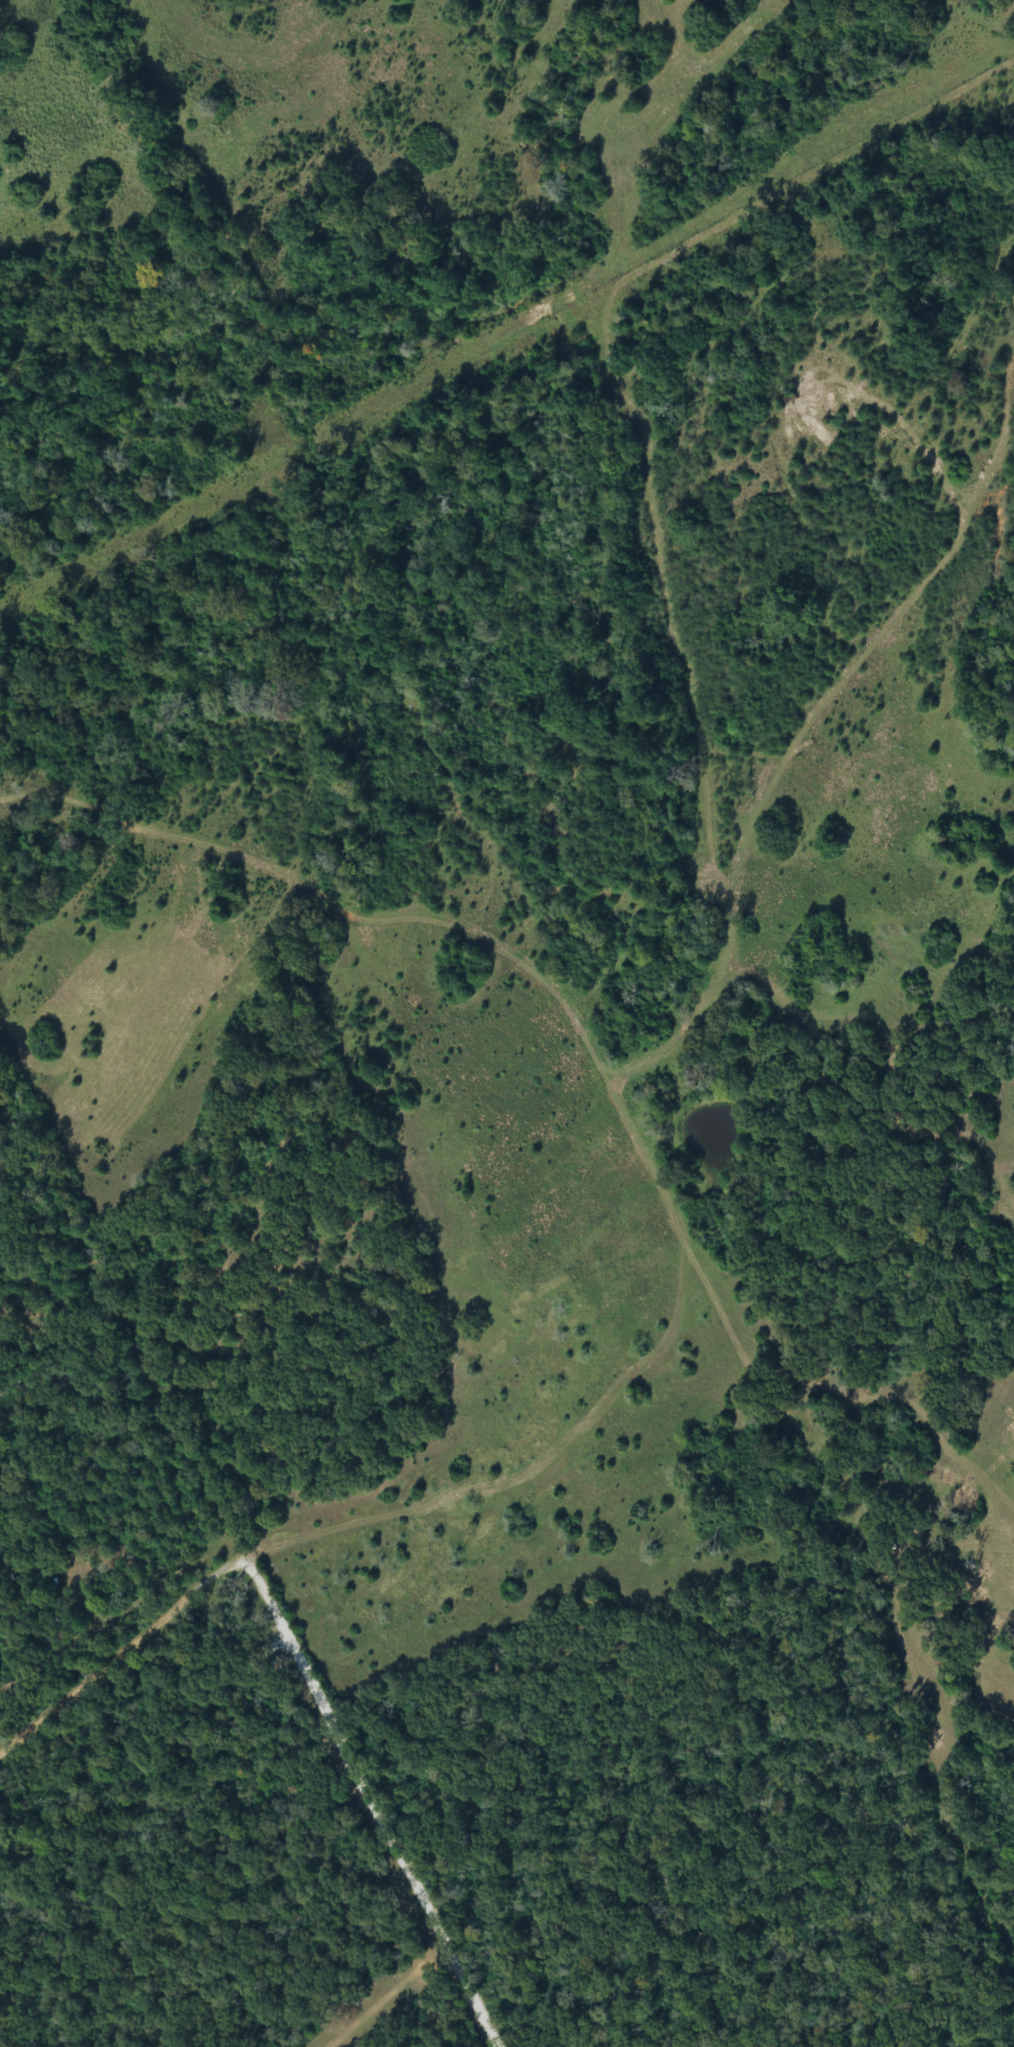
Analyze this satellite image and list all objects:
road: (108, 1892)
road: (313, 1922)

